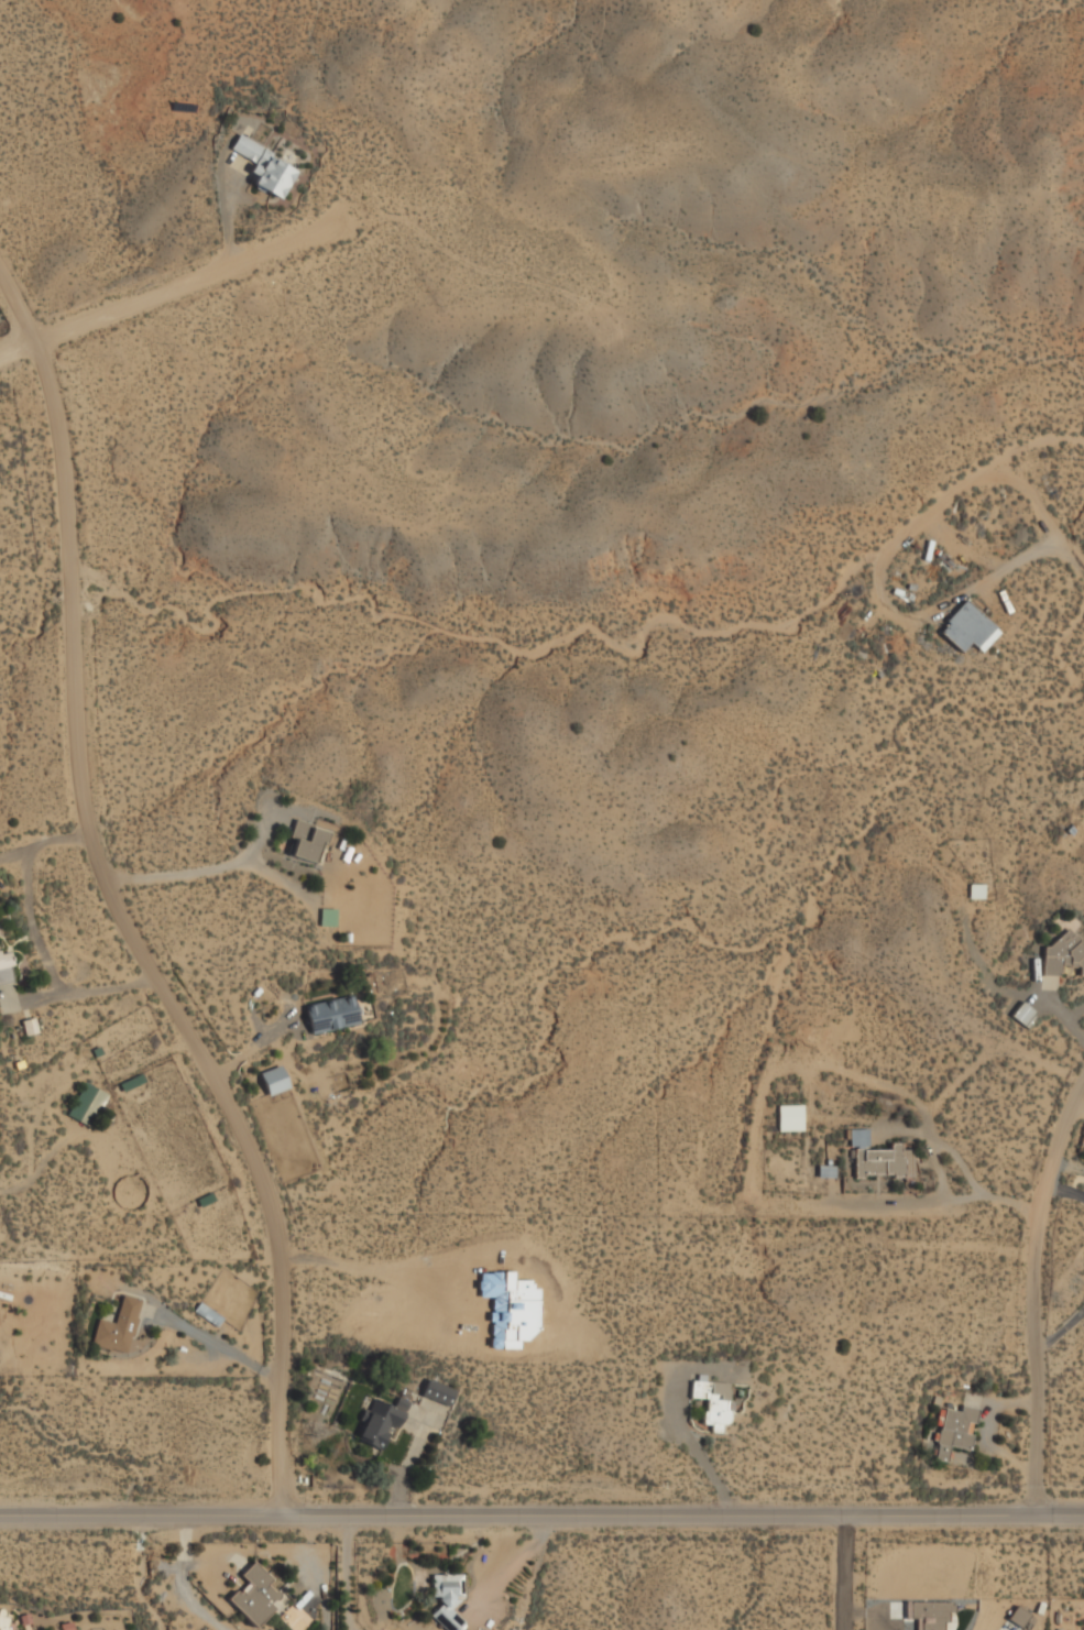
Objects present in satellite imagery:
building: (265, 168)
road: (172, 286)
road: (1022, 555)
building: (967, 628)
building: (307, 842)
road: (195, 872)
road: (124, 914)
building: (327, 917)
road: (39, 943)
building: (1061, 955)
building: (6, 969)
building: (331, 1015)
building: (1022, 1015)
building: (29, 1027)
building: (86, 1104)
building: (789, 1118)
building: (878, 1161)
road: (963, 1164)
road: (1033, 1301)
building: (117, 1326)
building: (437, 1392)
building: (712, 1402)
building: (379, 1423)
building: (954, 1431)
road: (541, 1519)
road: (349, 1574)
road: (850, 1576)
building: (254, 1595)
building: (448, 1598)
building: (295, 1618)
building: (3, 1621)

